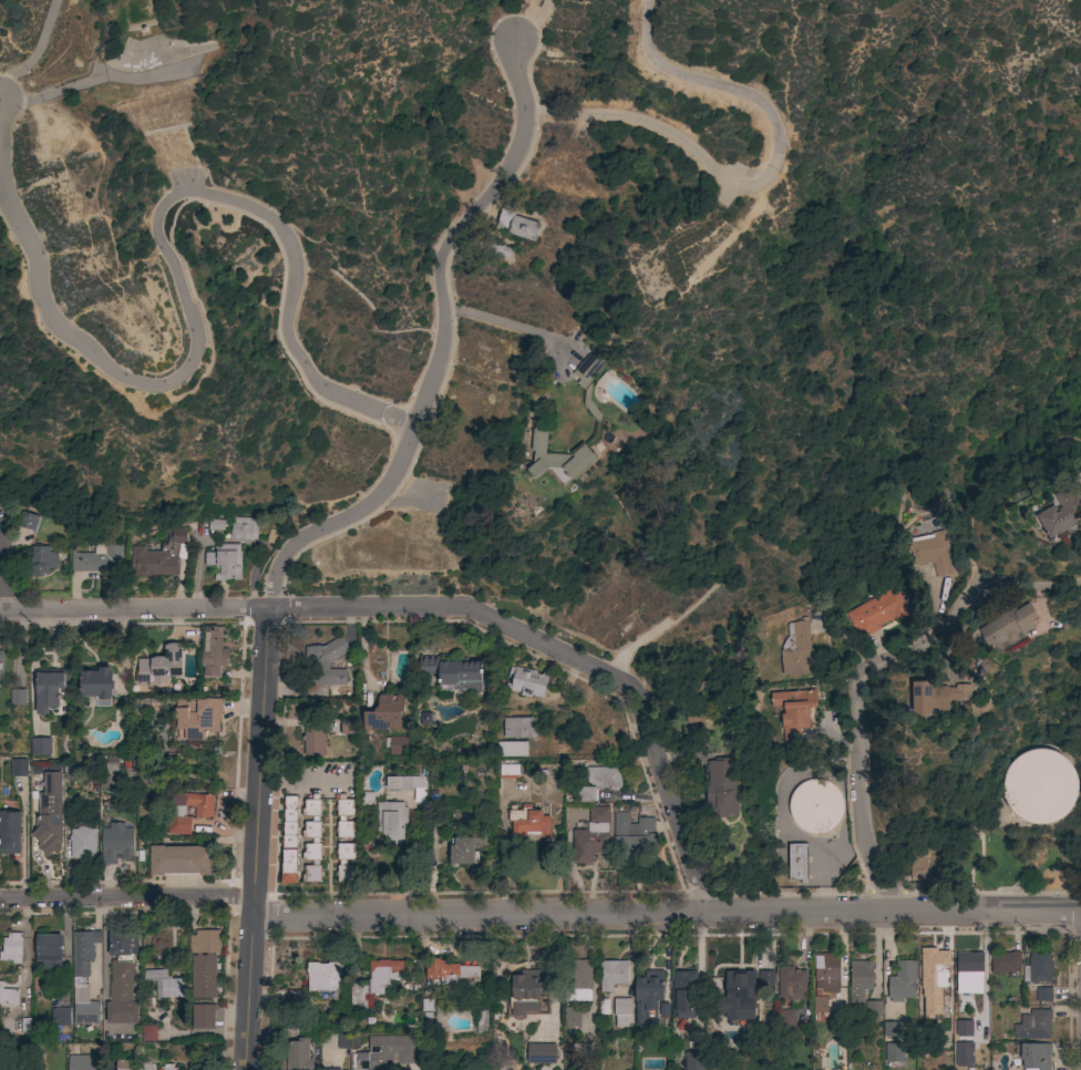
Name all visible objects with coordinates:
parking lot: (185, 177)
road: (764, 182)
building: (516, 223)
road: (163, 245)
building: (490, 247)
road: (504, 325)
road: (436, 347)
building: (588, 379)
building: (557, 460)
road: (987, 486)
building: (1060, 513)
building: (27, 521)
building: (216, 525)
building: (244, 528)
building: (931, 553)
building: (158, 556)
building: (97, 558)
building: (41, 559)
building: (225, 562)
road: (2, 569)
road: (1031, 589)
road: (133, 609)
building: (879, 610)
building: (1007, 625)
building: (796, 649)
building: (214, 655)
road: (564, 655)
building: (1, 665)
building: (159, 666)
building: (322, 667)
building: (453, 673)
building: (527, 682)
building: (96, 683)
building: (49, 688)
building: (17, 697)
building: (937, 697)
building: (979, 706)
building: (793, 711)
building: (384, 713)
building: (197, 718)
road: (858, 722)
building: (348, 727)
building: (519, 737)
building: (313, 741)
building: (41, 745)
building: (397, 745)
building: (18, 768)
building: (508, 771)
building: (71, 772)
building: (103, 778)
building: (598, 782)
building: (408, 785)
building: (1038, 788)
storage tank: (1038, 788)
building: (721, 791)
building: (367, 799)
building: (814, 805)
storage tank: (814, 805)
building: (203, 811)
building: (49, 815)
building: (390, 821)
building: (527, 822)
building: (289, 823)
building: (10, 832)
building: (632, 832)
building: (311, 835)
building: (591, 836)
road: (251, 838)
building: (82, 843)
building: (115, 843)
building: (462, 851)
building: (181, 861)
building: (797, 862)
building: (341, 863)
building: (918, 864)
building: (289, 867)
road: (124, 898)
road: (666, 914)
building: (11, 948)
building: (49, 950)
building: (204, 963)
building: (1005, 963)
building: (1038, 967)
building: (935, 970)
building: (450, 971)
building: (826, 971)
building: (969, 971)
building: (612, 975)
building: (323, 977)
building: (83, 978)
building: (121, 978)
building: (765, 979)
building: (580, 980)
building: (902, 980)
building: (374, 981)
building: (164, 984)
building: (791, 984)
building: (858, 984)
building: (740, 988)
building: (682, 994)
building: (1043, 995)
building: (8, 996)
building: (531, 996)
building: (649, 998)
building: (820, 1005)
building: (873, 1009)
building: (622, 1011)
building: (203, 1016)
building: (60, 1017)
building: (572, 1017)
building: (481, 1021)
building: (785, 1021)
building: (1032, 1025)
building: (892, 1029)
building: (962, 1029)
building: (147, 1032)
building: (342, 1040)
building: (387, 1051)
building: (540, 1052)
building: (894, 1052)
building: (299, 1053)
building: (962, 1056)
building: (1034, 1056)
building: (693, 1060)
building: (82, 1062)
building: (37, 1064)
building: (122, 1064)
building: (144, 1066)
building: (167, 1067)
building: (195, 1067)
building: (330, 1069)
road: (412, 1069)

